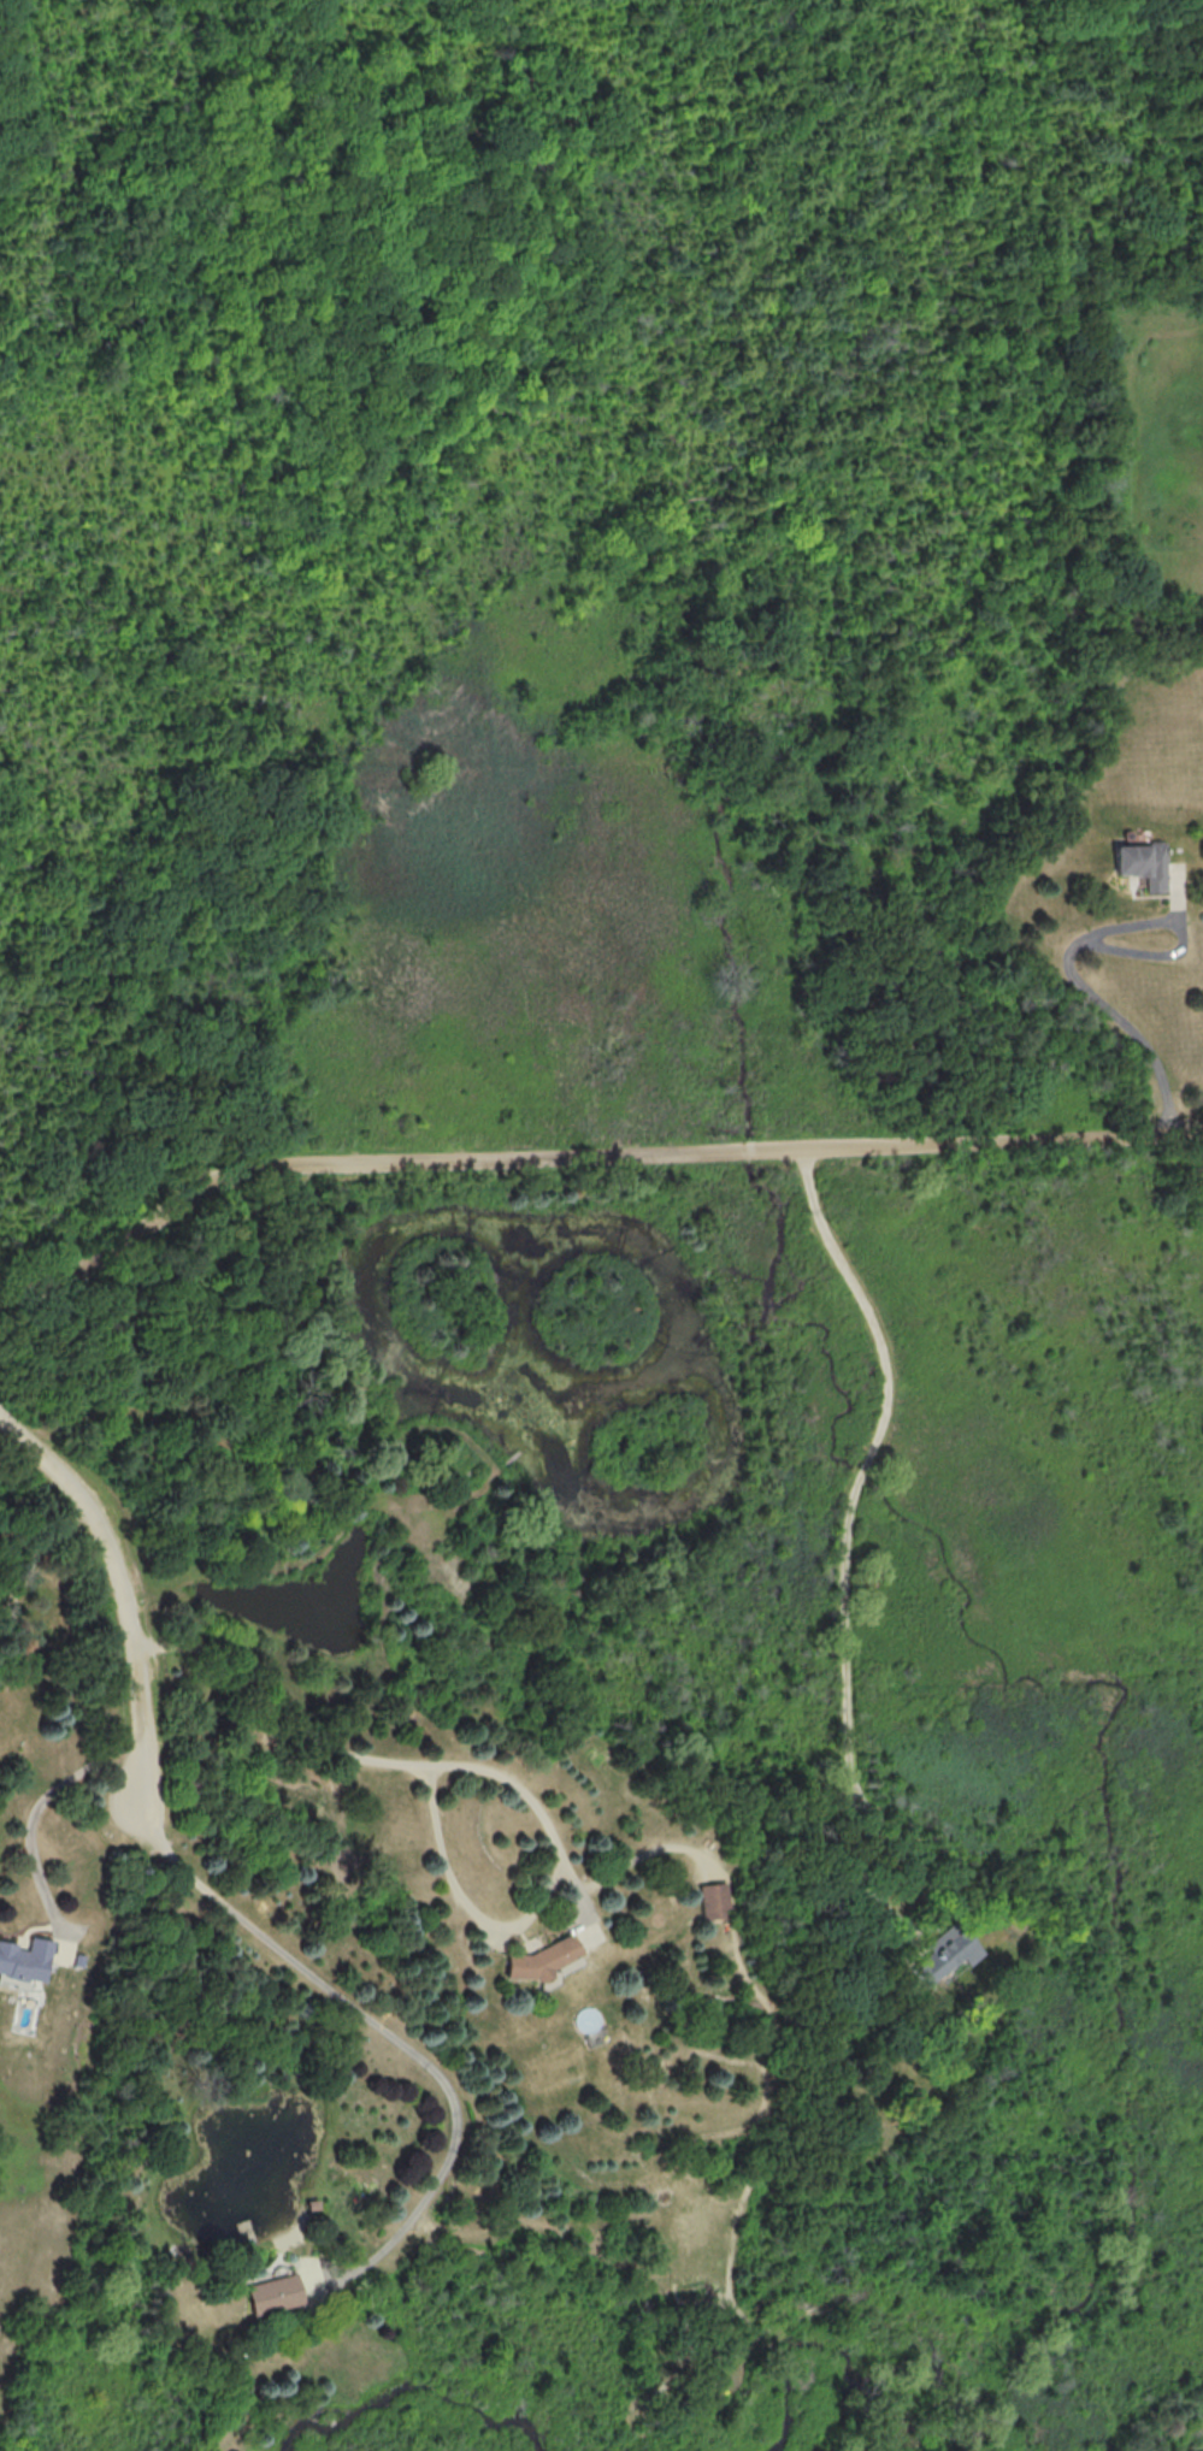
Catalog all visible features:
building: (1139, 861)
road: (1149, 953)
road: (1078, 980)
road: (583, 1160)
road: (37, 1558)
road: (118, 1588)
road: (847, 1626)
road: (40, 1807)
road: (438, 1832)
building: (715, 1901)
building: (945, 1955)
building: (541, 1959)
building: (25, 1960)
building: (590, 2022)
road: (375, 2024)
building: (271, 2291)

